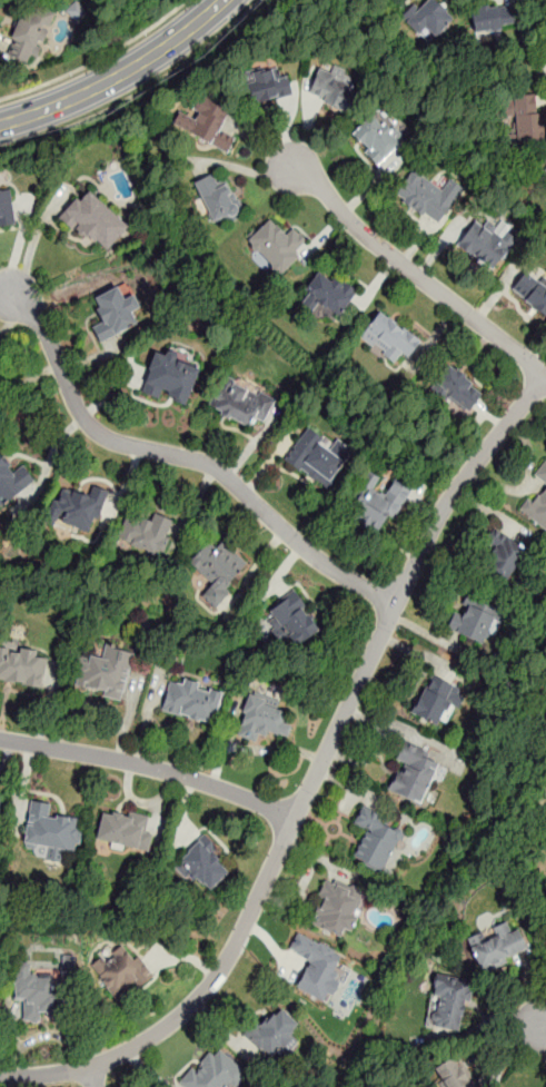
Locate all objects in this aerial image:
building: (76, 11)
building: (428, 18)
building: (493, 18)
building: (29, 34)
road: (97, 58)
road: (119, 75)
building: (265, 85)
building: (334, 90)
road: (139, 92)
building: (527, 118)
building: (208, 122)
building: (376, 140)
building: (545, 169)
building: (427, 196)
building: (219, 201)
building: (7, 208)
building: (93, 221)
building: (487, 243)
building: (275, 245)
road: (415, 275)
building: (532, 290)
building: (328, 295)
building: (113, 313)
building: (388, 338)
building: (170, 377)
road: (27, 381)
building: (457, 389)
building: (240, 403)
road: (183, 456)
building: (316, 457)
building: (542, 473)
building: (12, 480)
building: (378, 506)
building: (77, 508)
building: (538, 508)
building: (145, 532)
building: (505, 559)
building: (217, 567)
building: (291, 619)
building: (471, 620)
building: (22, 665)
building: (106, 672)
building: (191, 700)
building: (436, 701)
road: (97, 703)
building: (264, 718)
road: (7, 753)
road: (150, 767)
building: (414, 773)
road: (312, 778)
building: (0, 800)
building: (49, 829)
building: (123, 829)
building: (375, 840)
building: (203, 863)
building: (336, 908)
building: (497, 947)
building: (316, 967)
building: (122, 972)
building: (36, 991)
building: (449, 1002)
road: (535, 1025)
building: (275, 1031)
building: (215, 1071)
building: (451, 1073)
road: (92, 1077)

